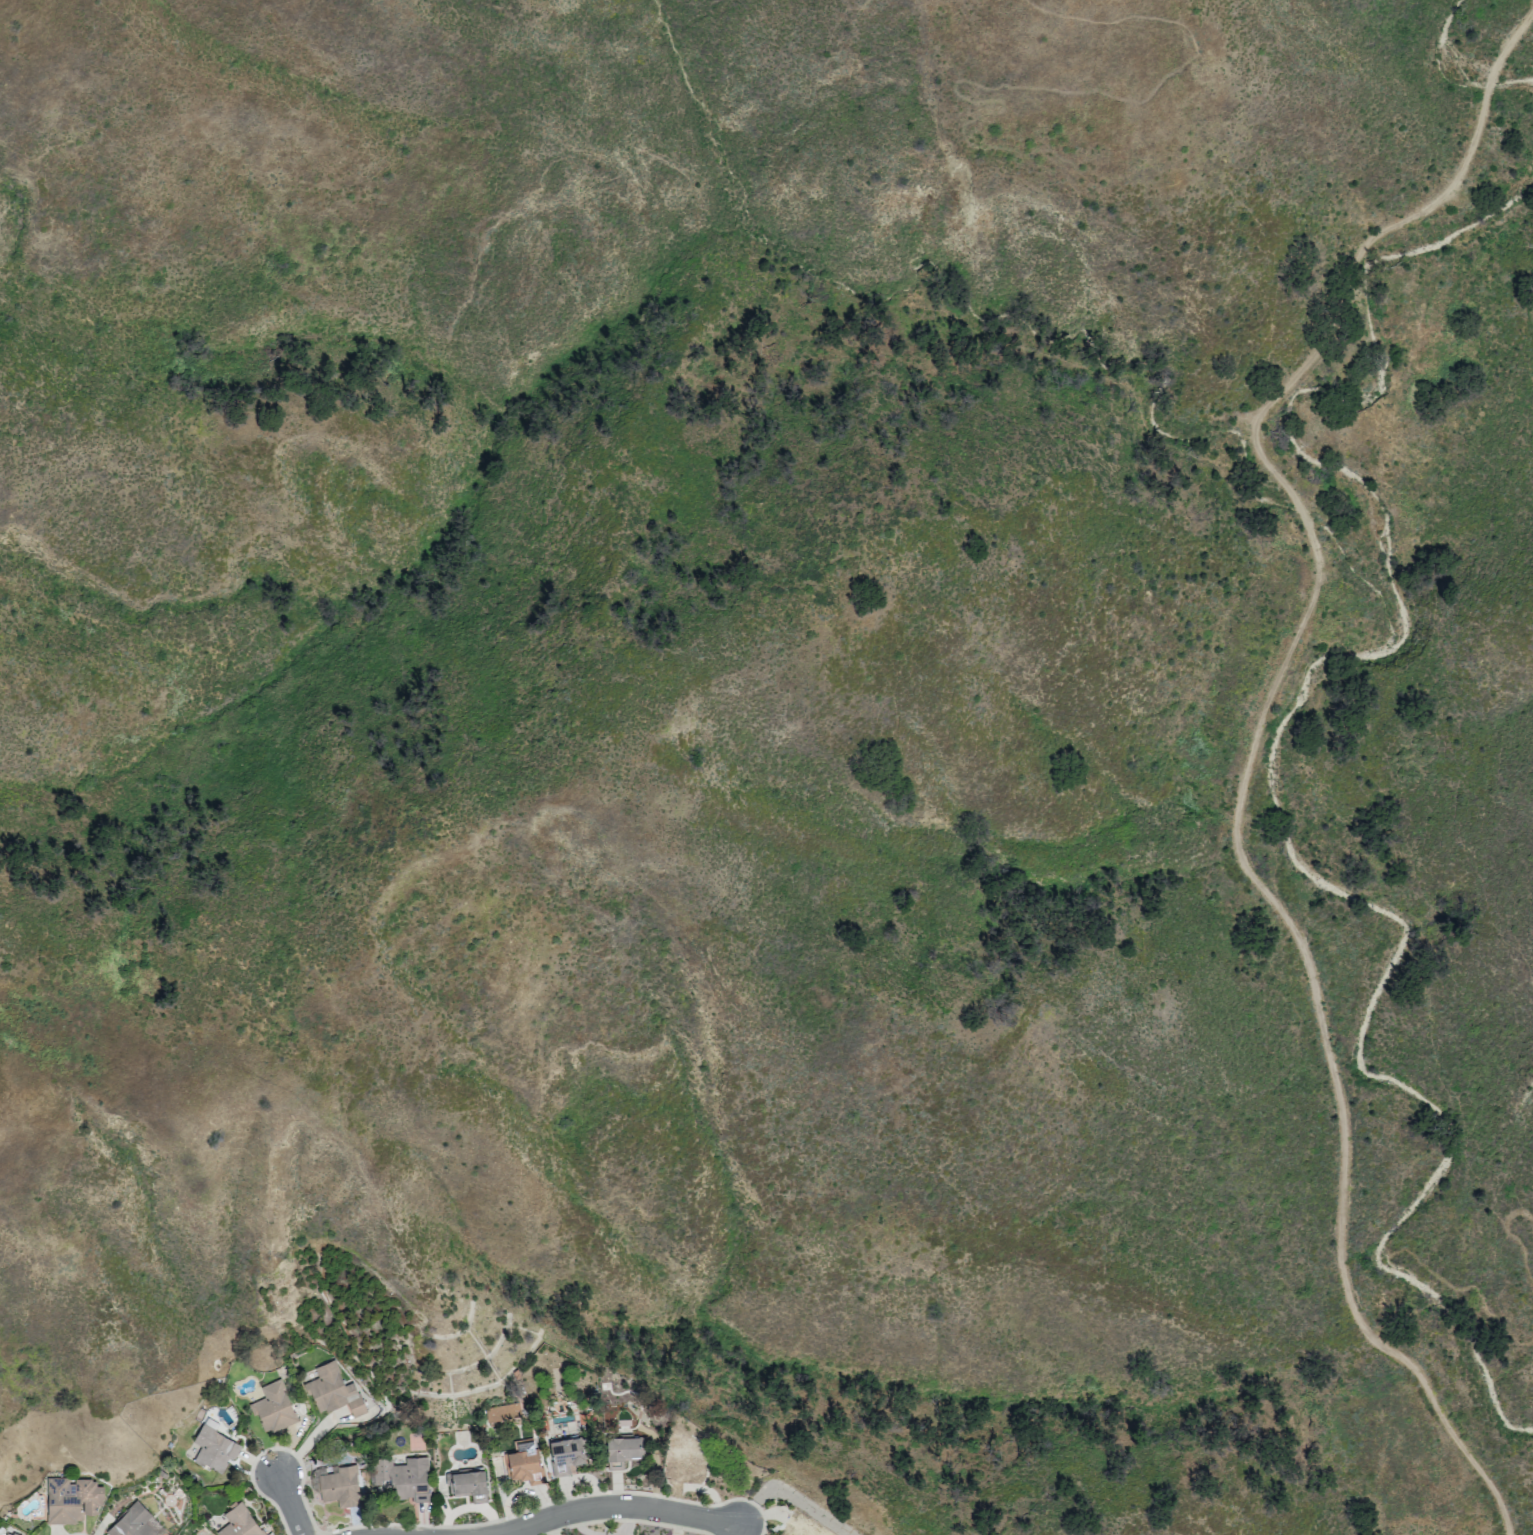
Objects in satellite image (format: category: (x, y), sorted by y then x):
road: (1461, 424)
road: (1331, 677)
road: (1261, 740)
building: (334, 1391)
building: (274, 1408)
building: (501, 1412)
building: (624, 1447)
building: (214, 1449)
building: (566, 1455)
building: (686, 1459)
building: (524, 1463)
building: (405, 1477)
building: (468, 1485)
building: (340, 1487)
building: (72, 1500)
road: (292, 1505)
road: (617, 1506)
building: (136, 1522)
building: (240, 1523)
building: (803, 1525)
building: (7, 1534)

